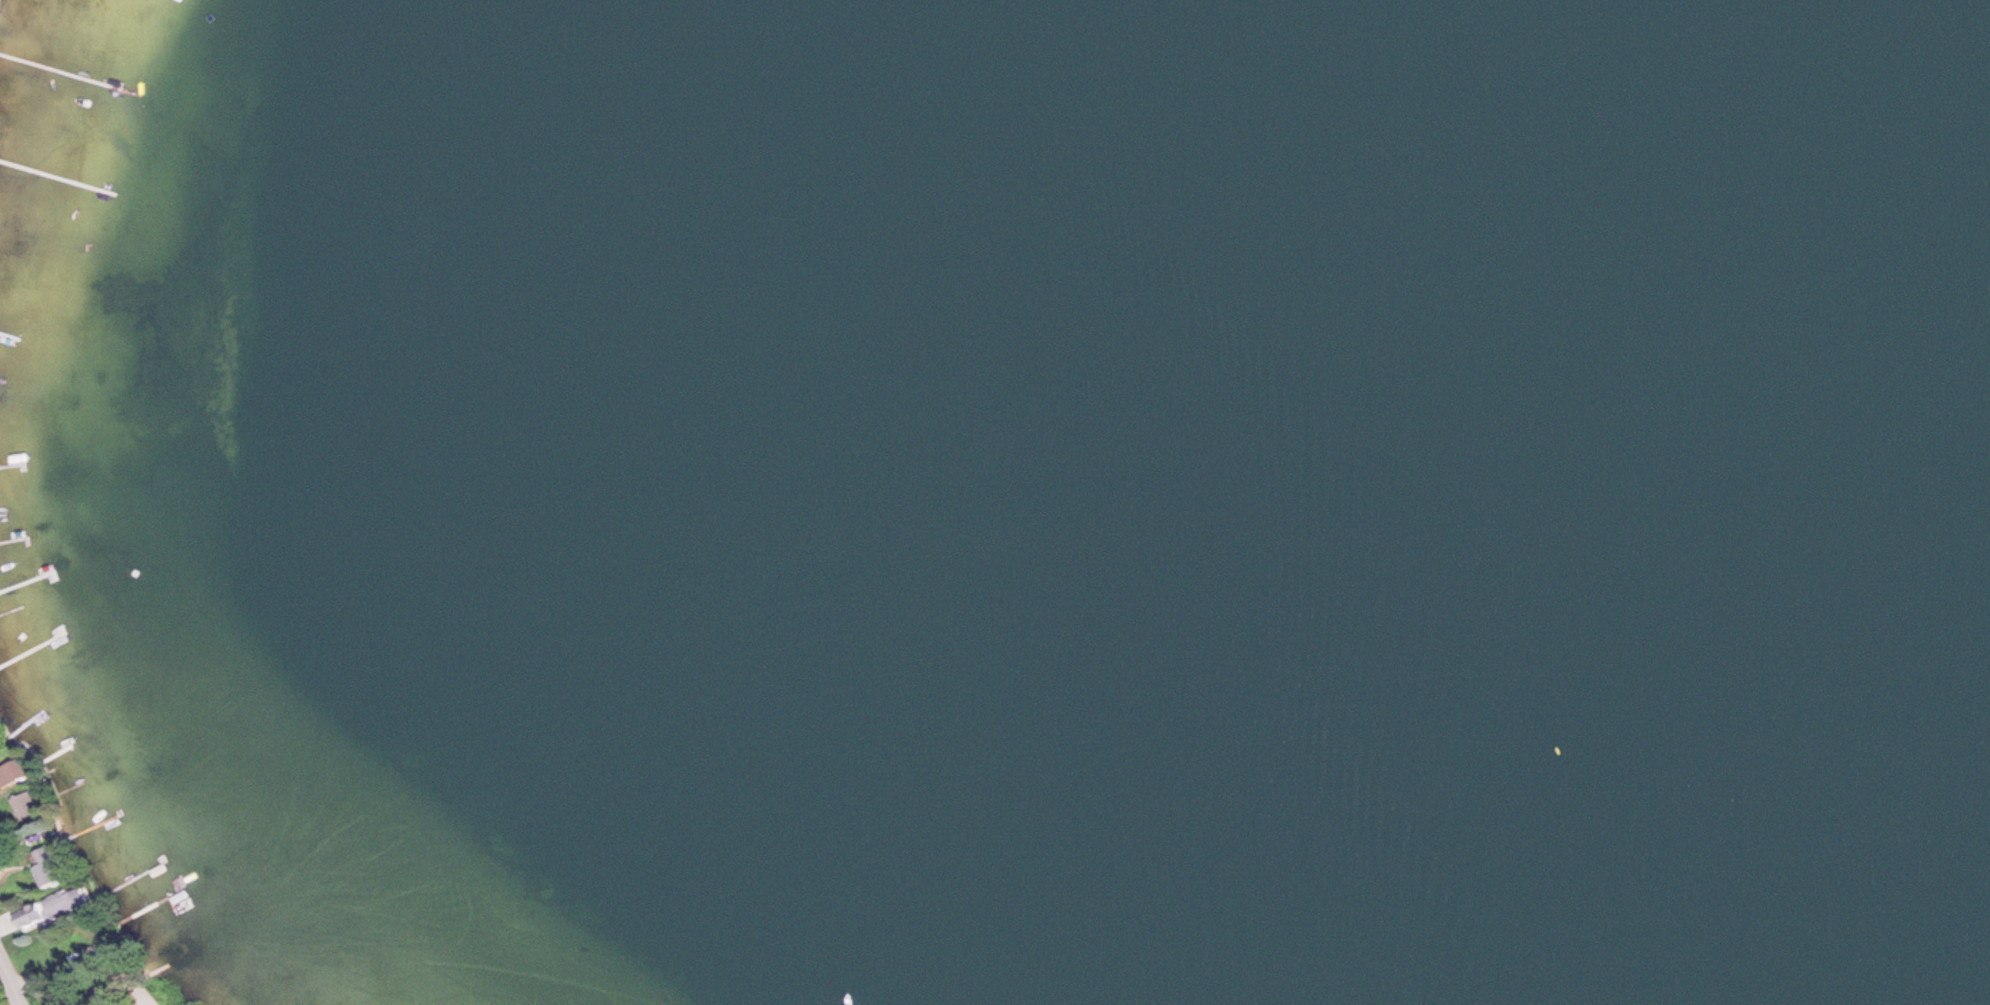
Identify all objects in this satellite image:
building: (52, 910)
road: (9, 983)
parking lot: (118, 993)
road: (141, 997)

